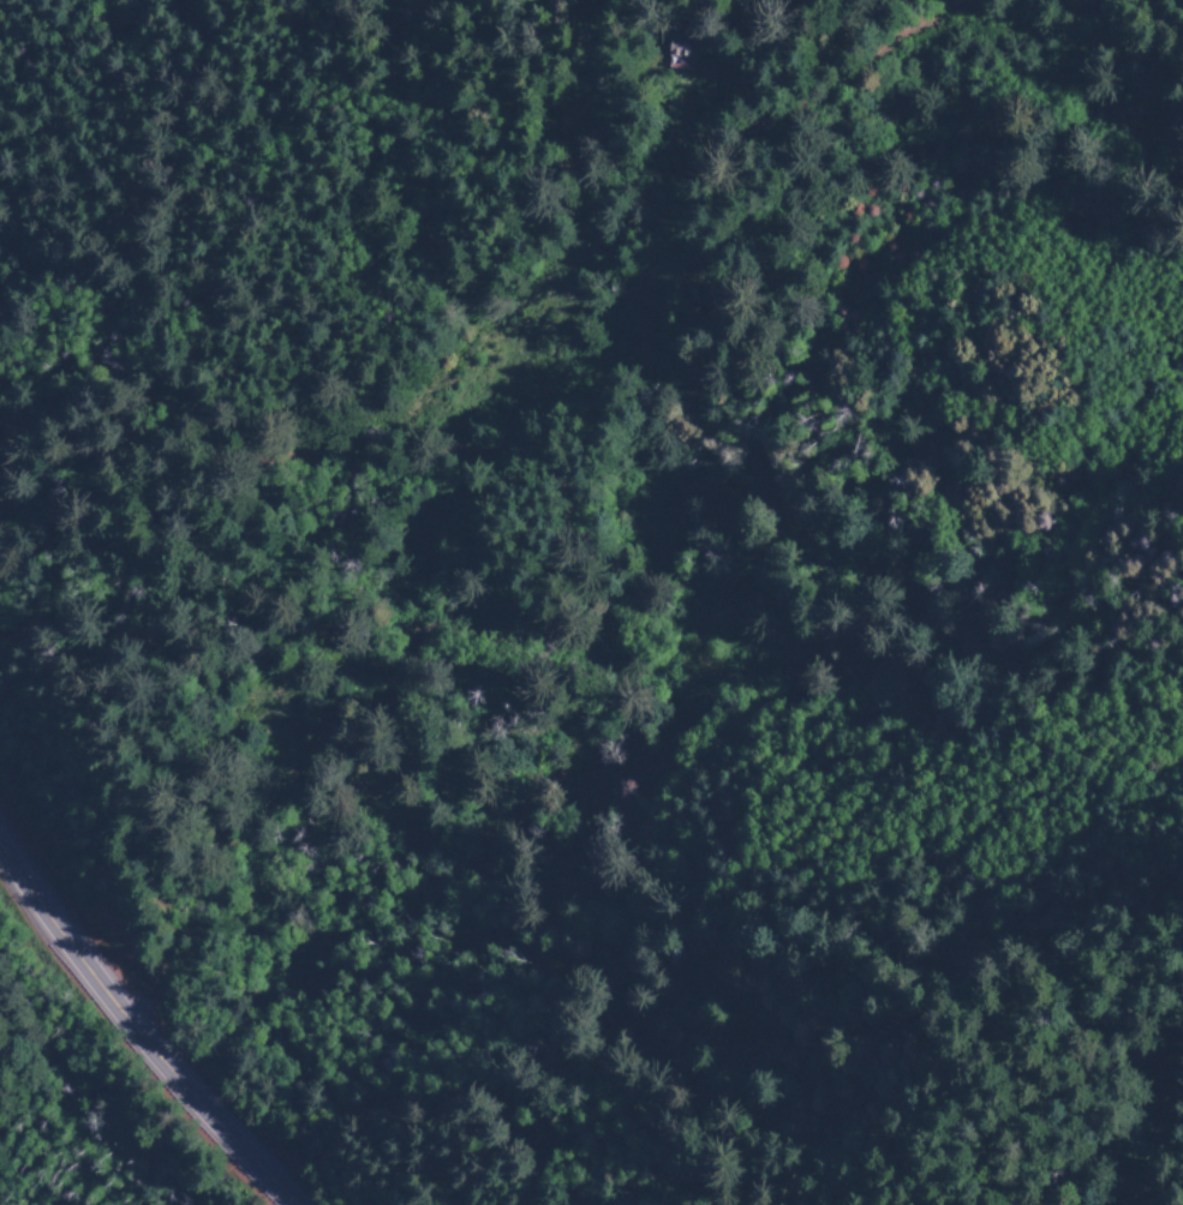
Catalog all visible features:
road: (136, 1041)
road: (62, 1149)

